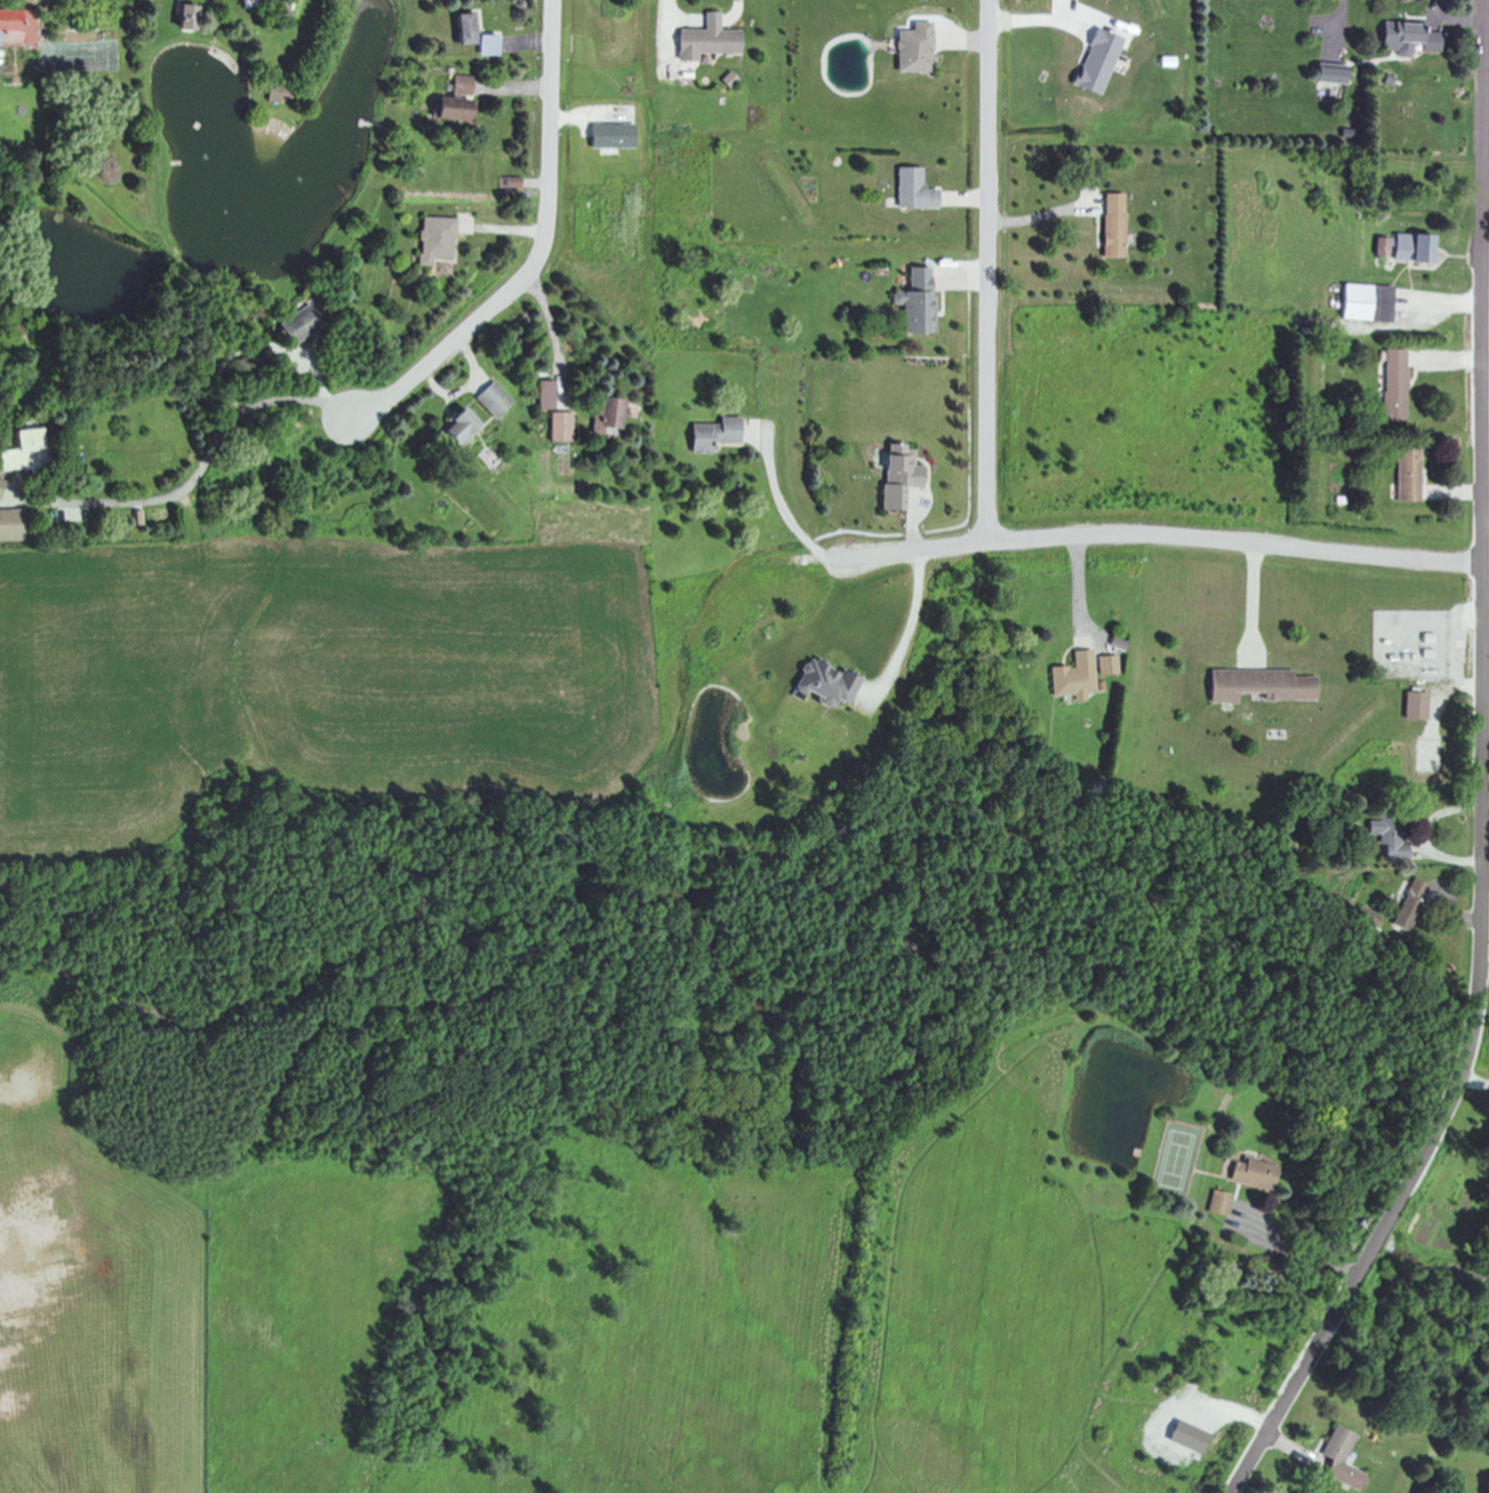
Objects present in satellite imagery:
building: (236, 0)
building: (281, 8)
building: (181, 17)
road: (1453, 17)
road: (1342, 19)
road: (667, 26)
building: (16, 27)
building: (462, 29)
road: (537, 39)
building: (1403, 39)
building: (703, 40)
road: (973, 40)
building: (484, 46)
building: (910, 49)
building: (1093, 62)
building: (1325, 74)
building: (725, 80)
road: (534, 88)
building: (275, 94)
building: (451, 101)
building: (608, 137)
building: (509, 183)
building: (910, 190)
road: (974, 198)
road: (1035, 217)
building: (1109, 226)
building: (433, 240)
building: (1377, 248)
building: (1408, 249)
road: (543, 251)
road: (989, 269)
road: (969, 278)
road: (1453, 299)
building: (1363, 304)
road: (552, 324)
building: (296, 326)
road: (1459, 359)
road: (1486, 372)
building: (1391, 386)
road: (469, 388)
building: (541, 396)
building: (490, 400)
building: (604, 417)
road: (227, 427)
building: (556, 428)
building: (454, 429)
building: (710, 435)
building: (21, 452)
building: (1404, 476)
building: (895, 477)
road: (1458, 492)
road: (784, 507)
building: (135, 519)
building: (8, 526)
road: (1236, 539)
road: (914, 548)
road: (1077, 579)
road: (1252, 589)
road: (913, 605)
building: (1104, 666)
building: (1070, 678)
building: (821, 685)
building: (1255, 687)
building: (1412, 707)
road: (1483, 777)
building: (1388, 833)
road: (1427, 833)
building: (1408, 906)
road: (1468, 917)
building: (1363, 918)
road: (1475, 1080)
building: (1249, 1175)
building: (1226, 1208)
road: (1300, 1256)
airport: (78, 1263)
building: (1184, 1438)
road: (1282, 1442)
building: (1337, 1460)

